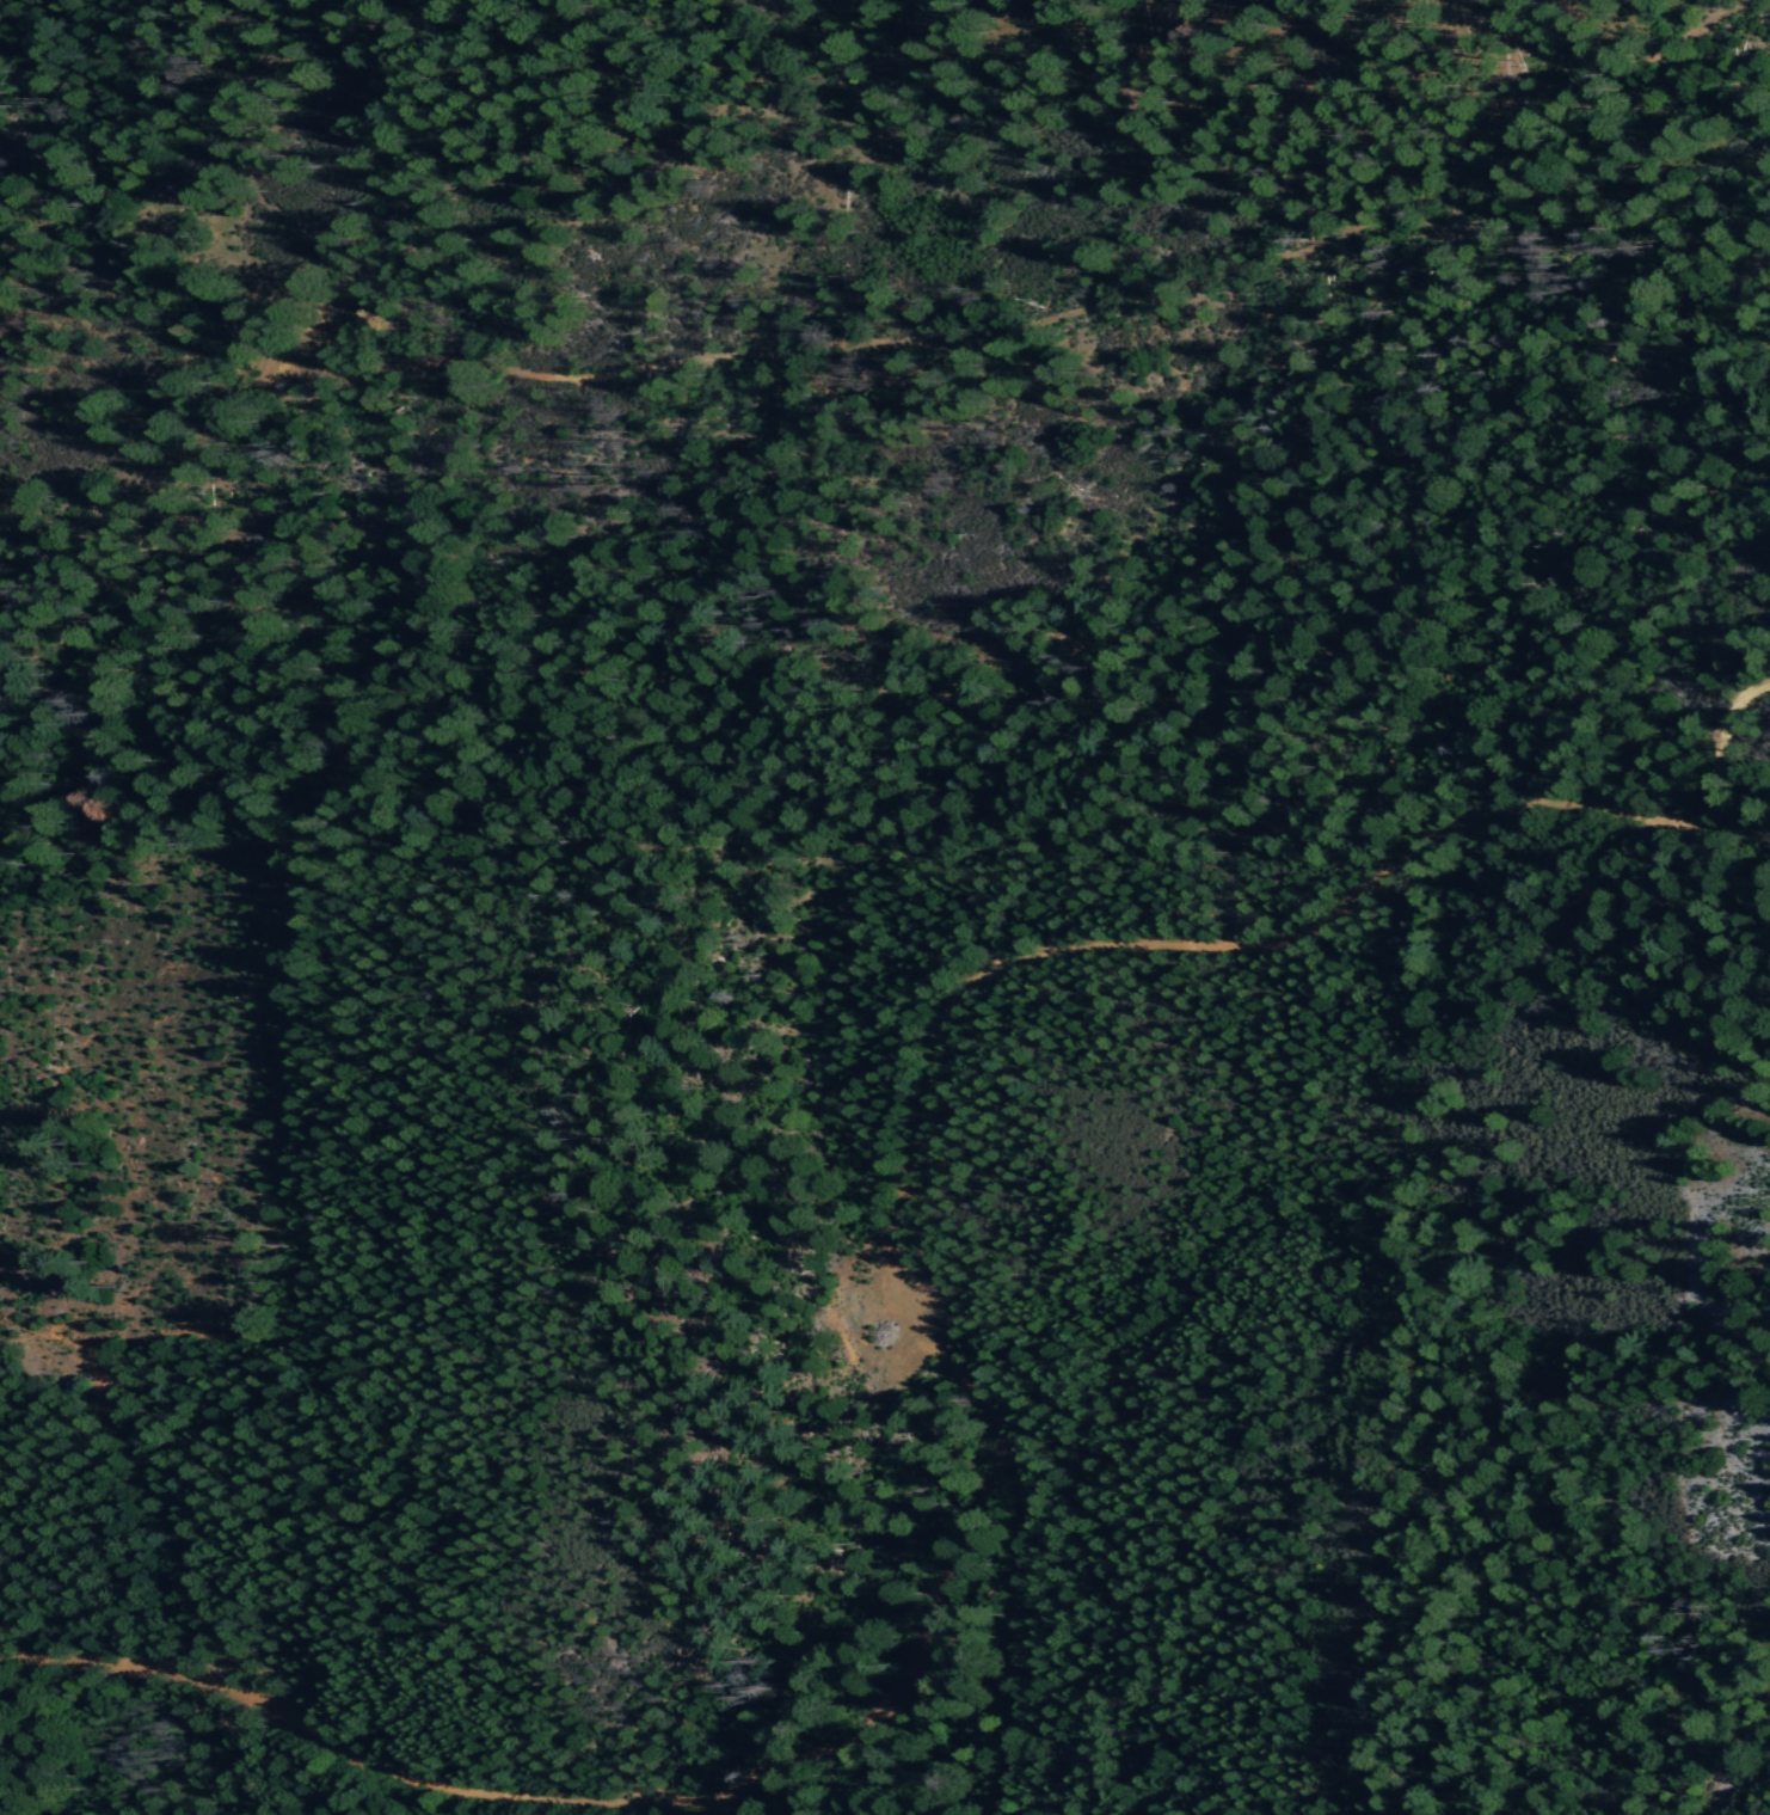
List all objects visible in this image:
park: (763, 394)
road: (1182, 936)
road: (917, 1667)
road: (1013, 1688)
road: (338, 1748)

